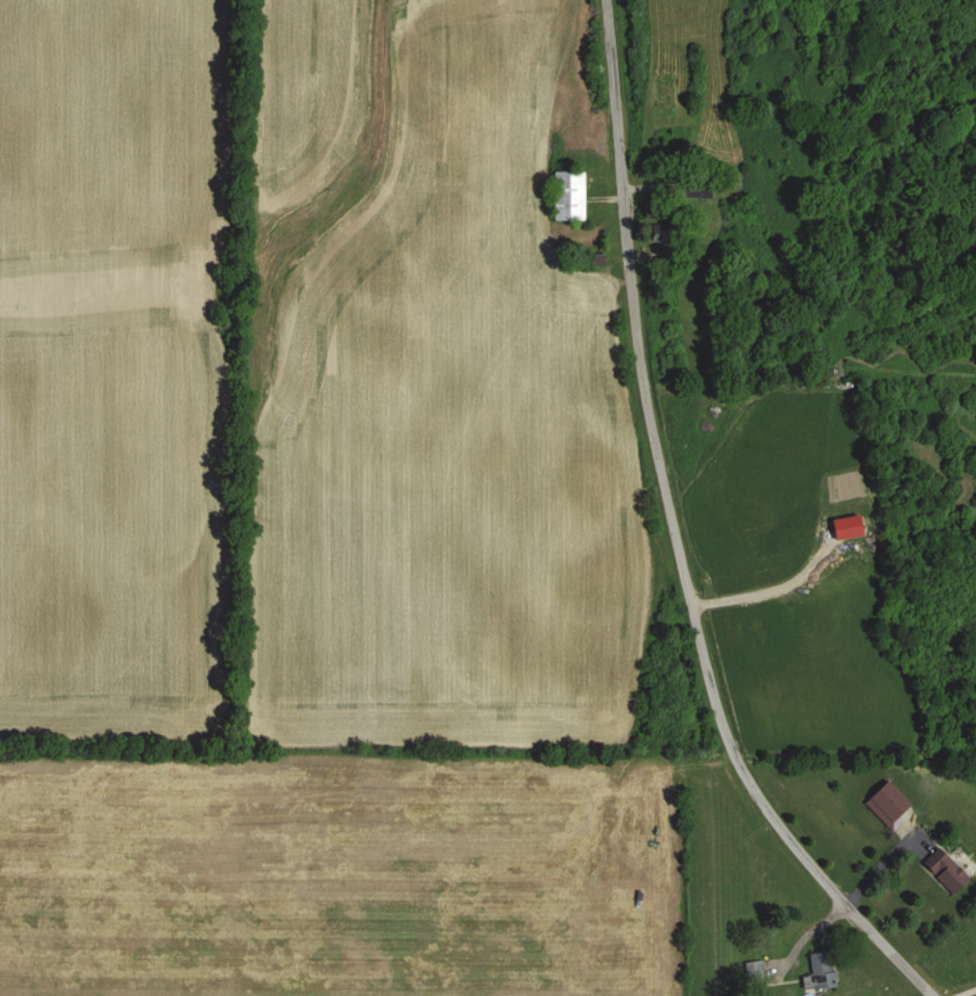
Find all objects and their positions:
building: (569, 194)
building: (733, 219)
road: (674, 535)
building: (752, 620)
building: (758, 638)
building: (946, 869)
building: (820, 971)
building: (754, 973)
road: (960, 988)

